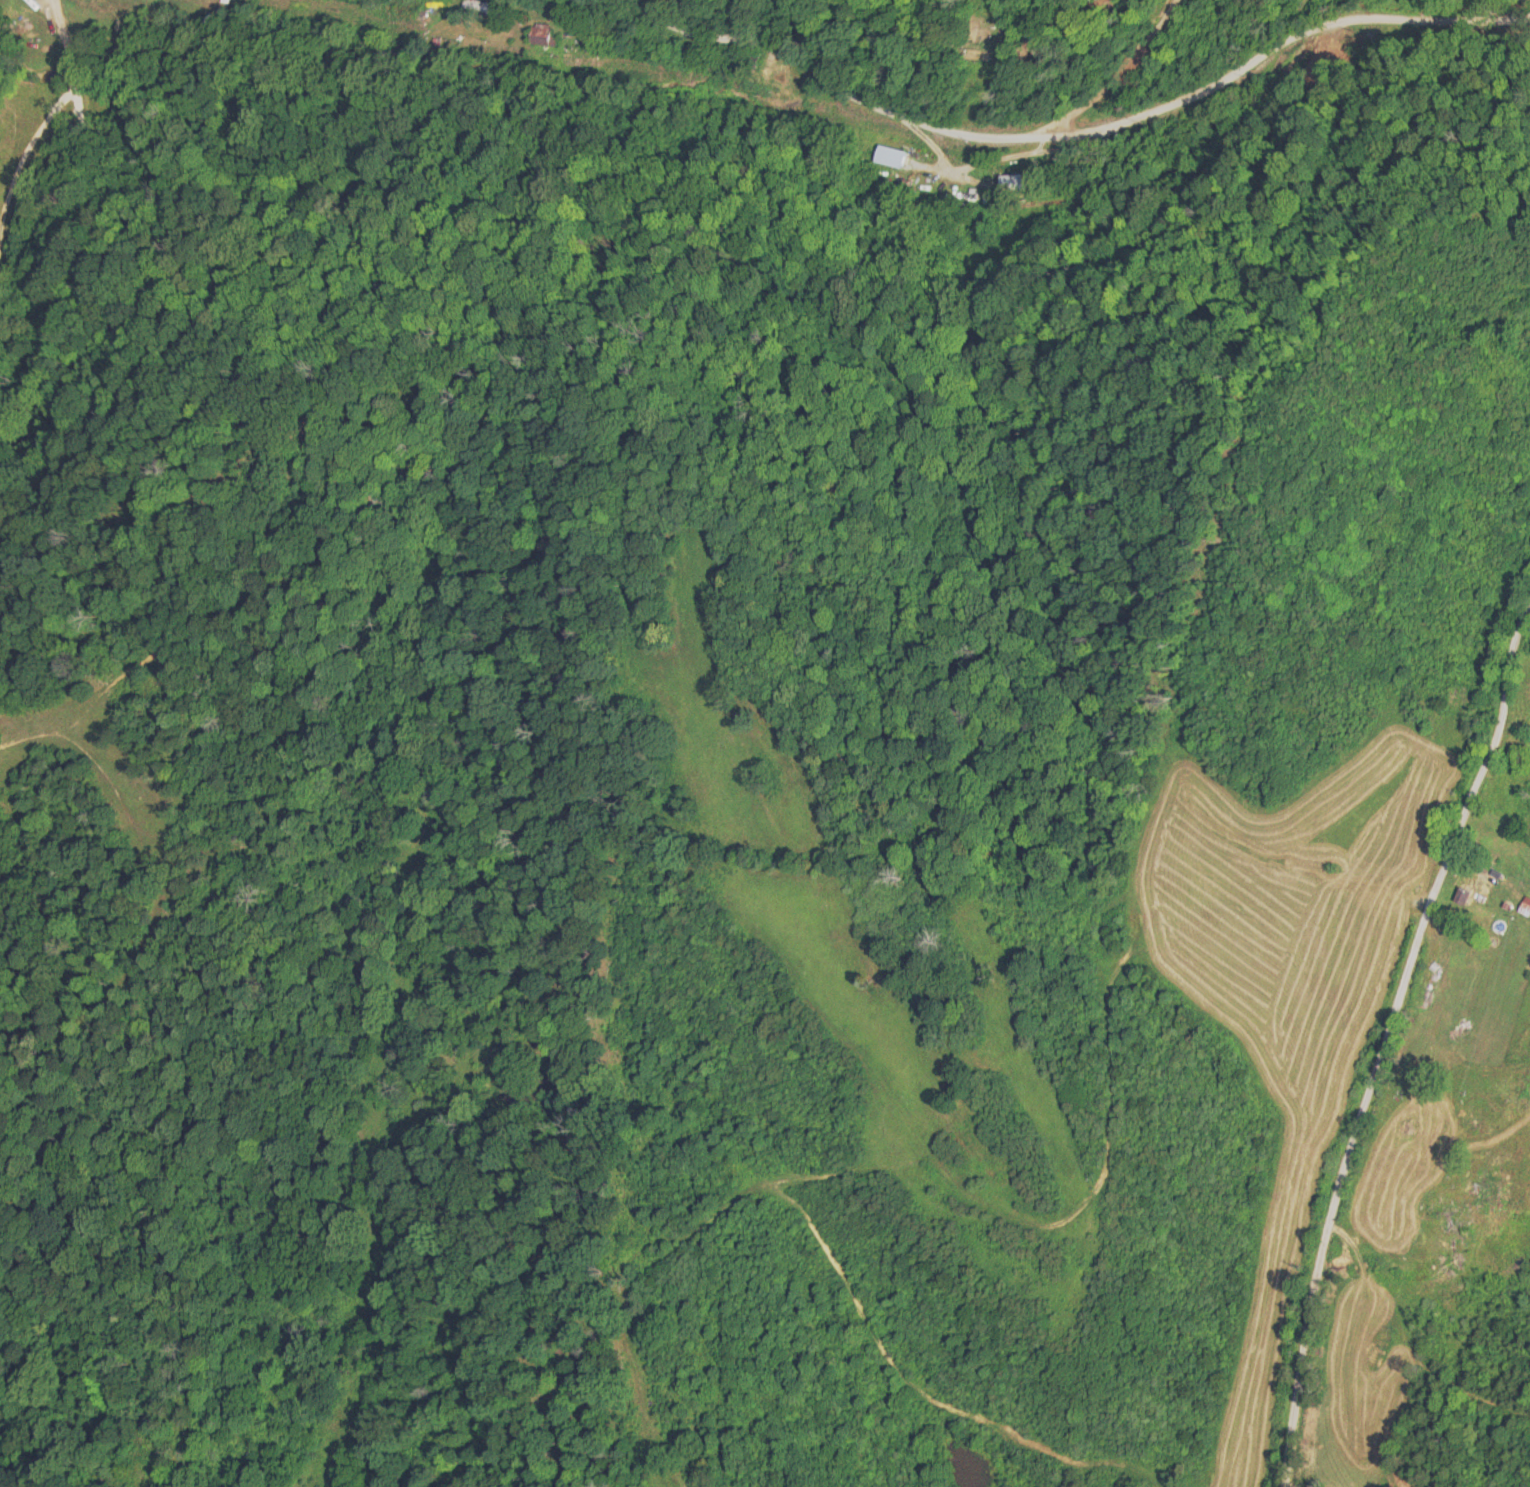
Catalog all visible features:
building: (485, 6)
road: (1101, 26)
building: (889, 156)
building: (1014, 181)
building: (1476, 886)
road: (1365, 1093)
building: (1405, 1131)
building: (1480, 1200)

